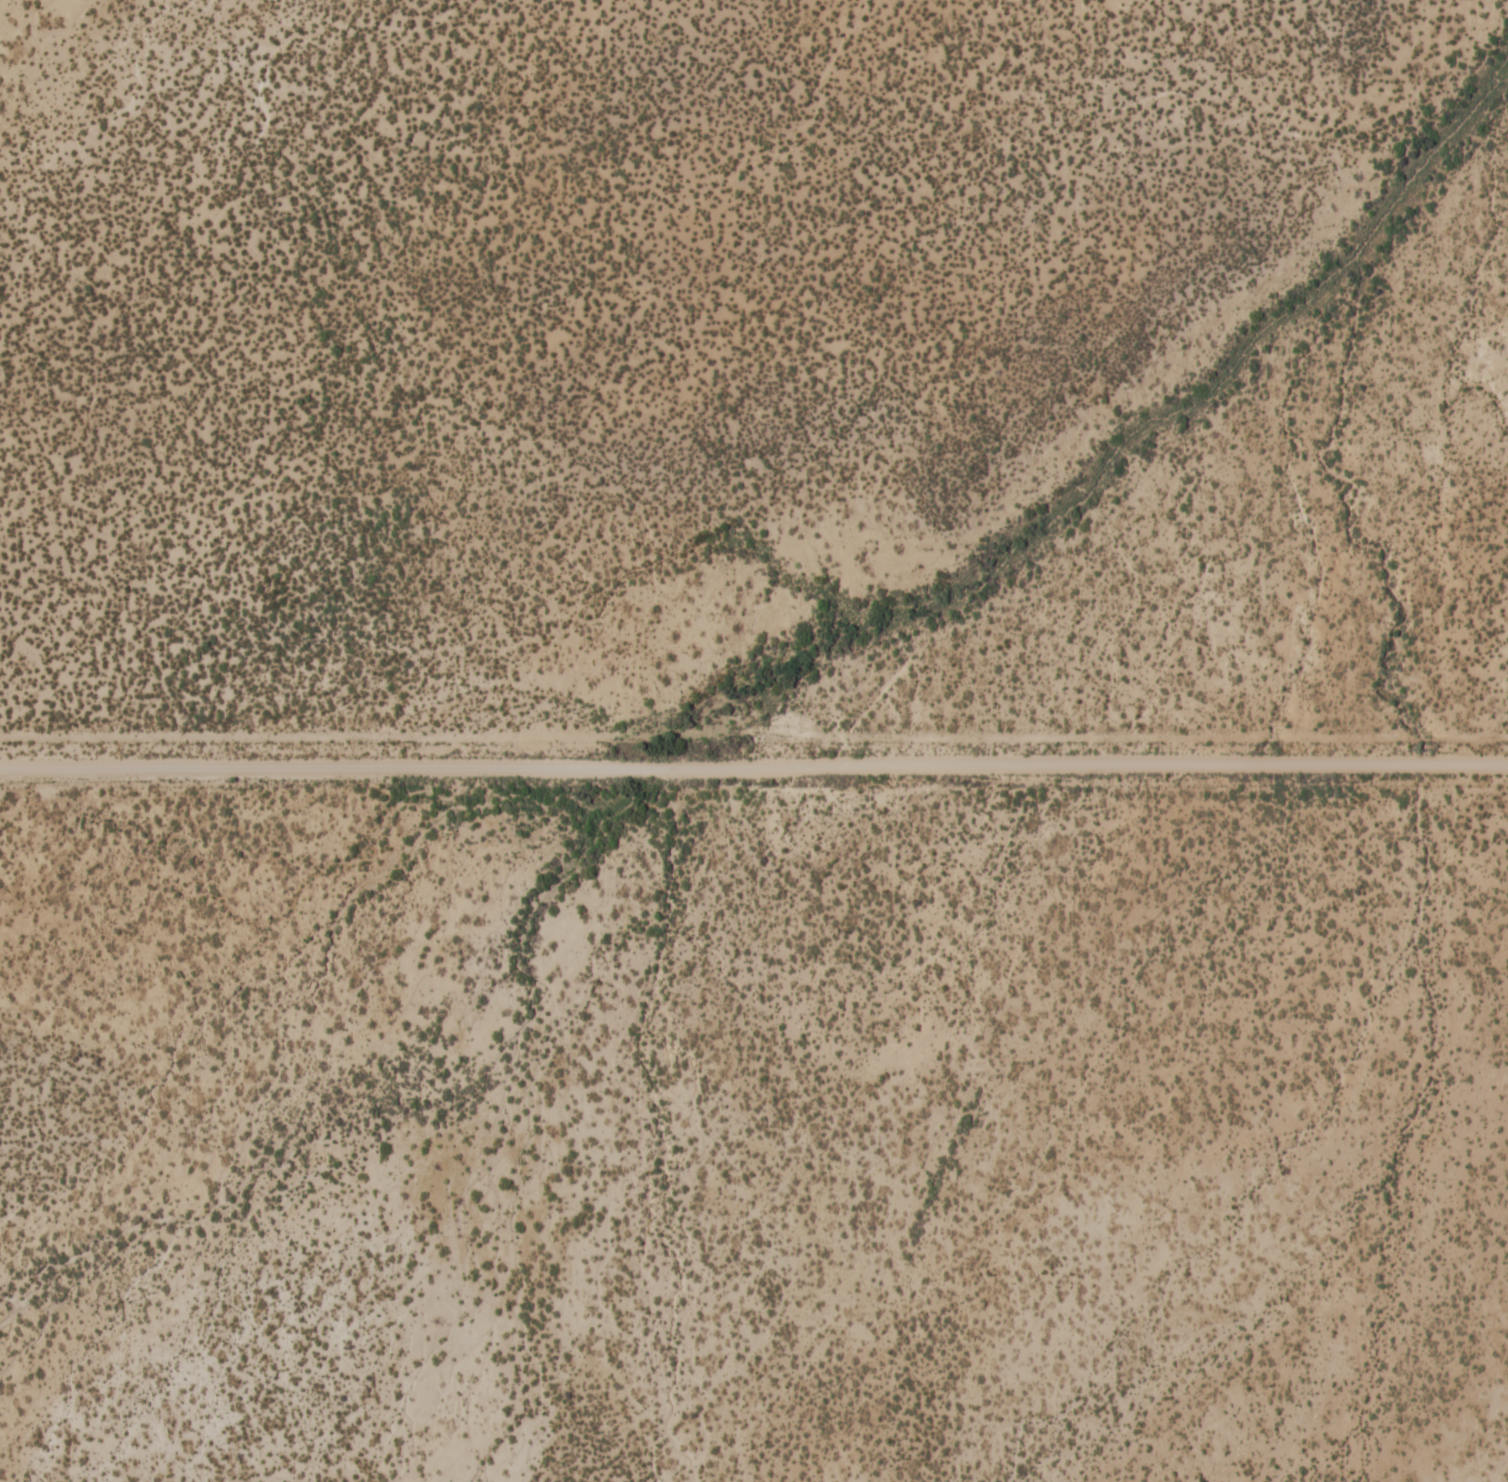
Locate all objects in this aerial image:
road: (753, 732)
road: (754, 768)

